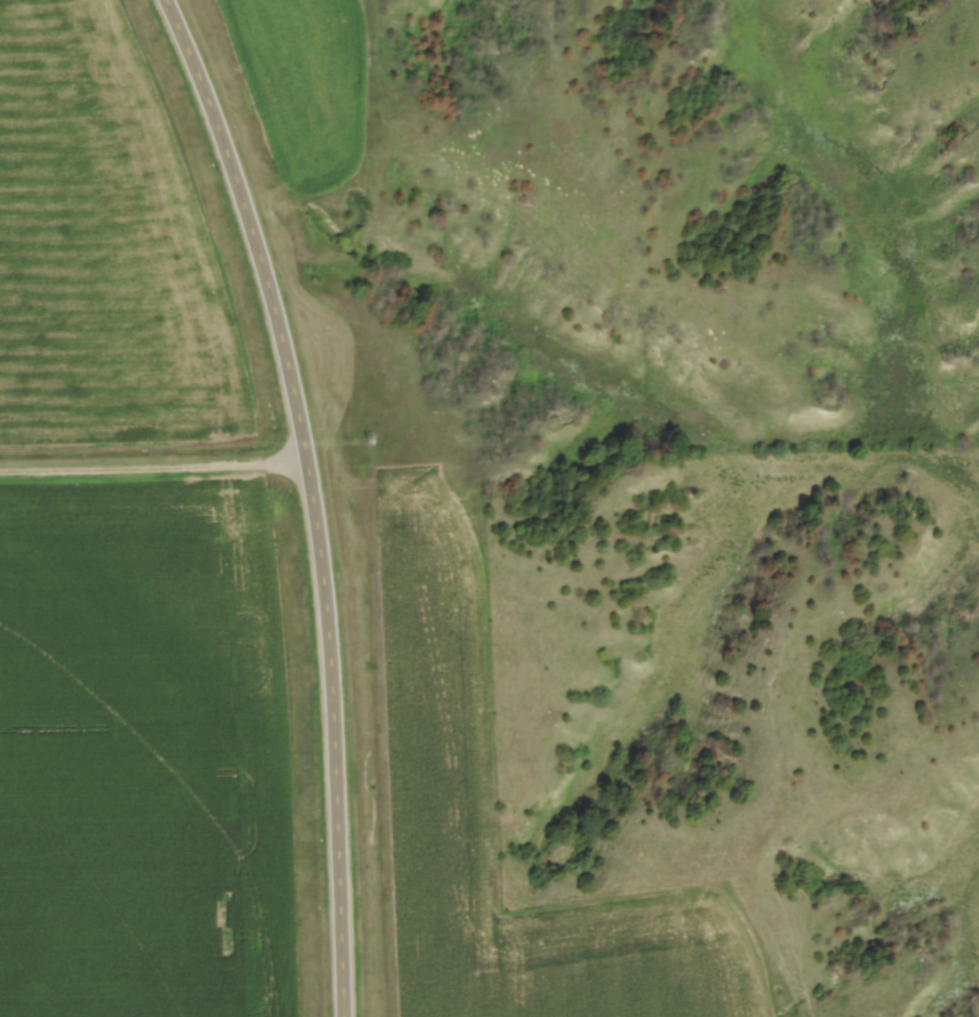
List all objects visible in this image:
road: (312, 497)

